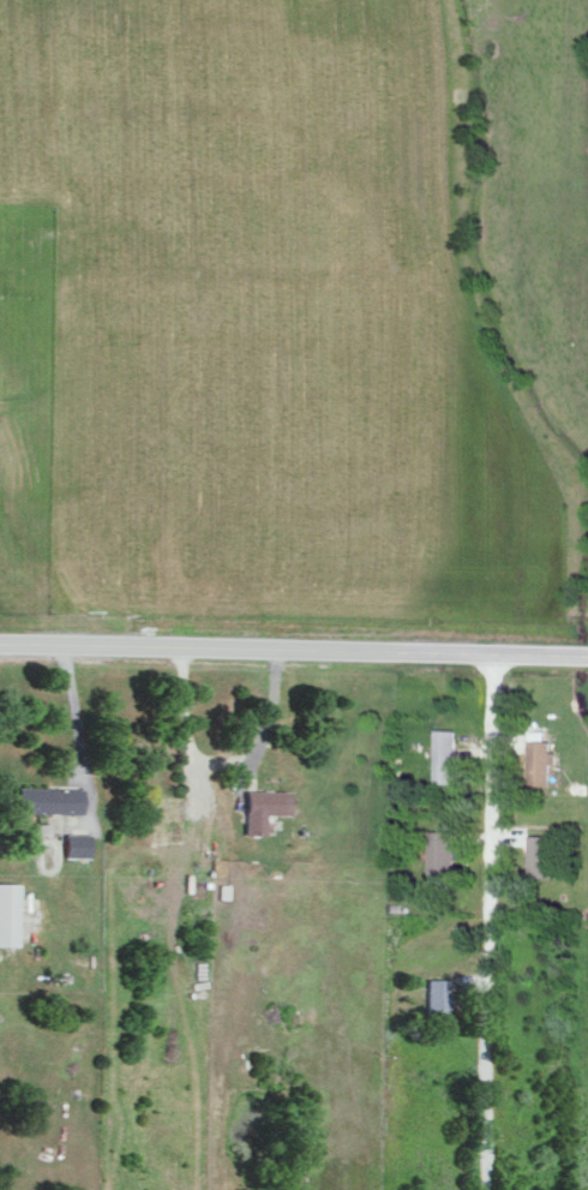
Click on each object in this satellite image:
road: (293, 650)
road: (185, 720)
road: (268, 720)
road: (77, 736)
building: (445, 754)
building: (541, 760)
building: (49, 799)
building: (265, 807)
building: (78, 844)
building: (442, 854)
building: (540, 854)
building: (8, 913)
road: (486, 922)
building: (440, 998)

